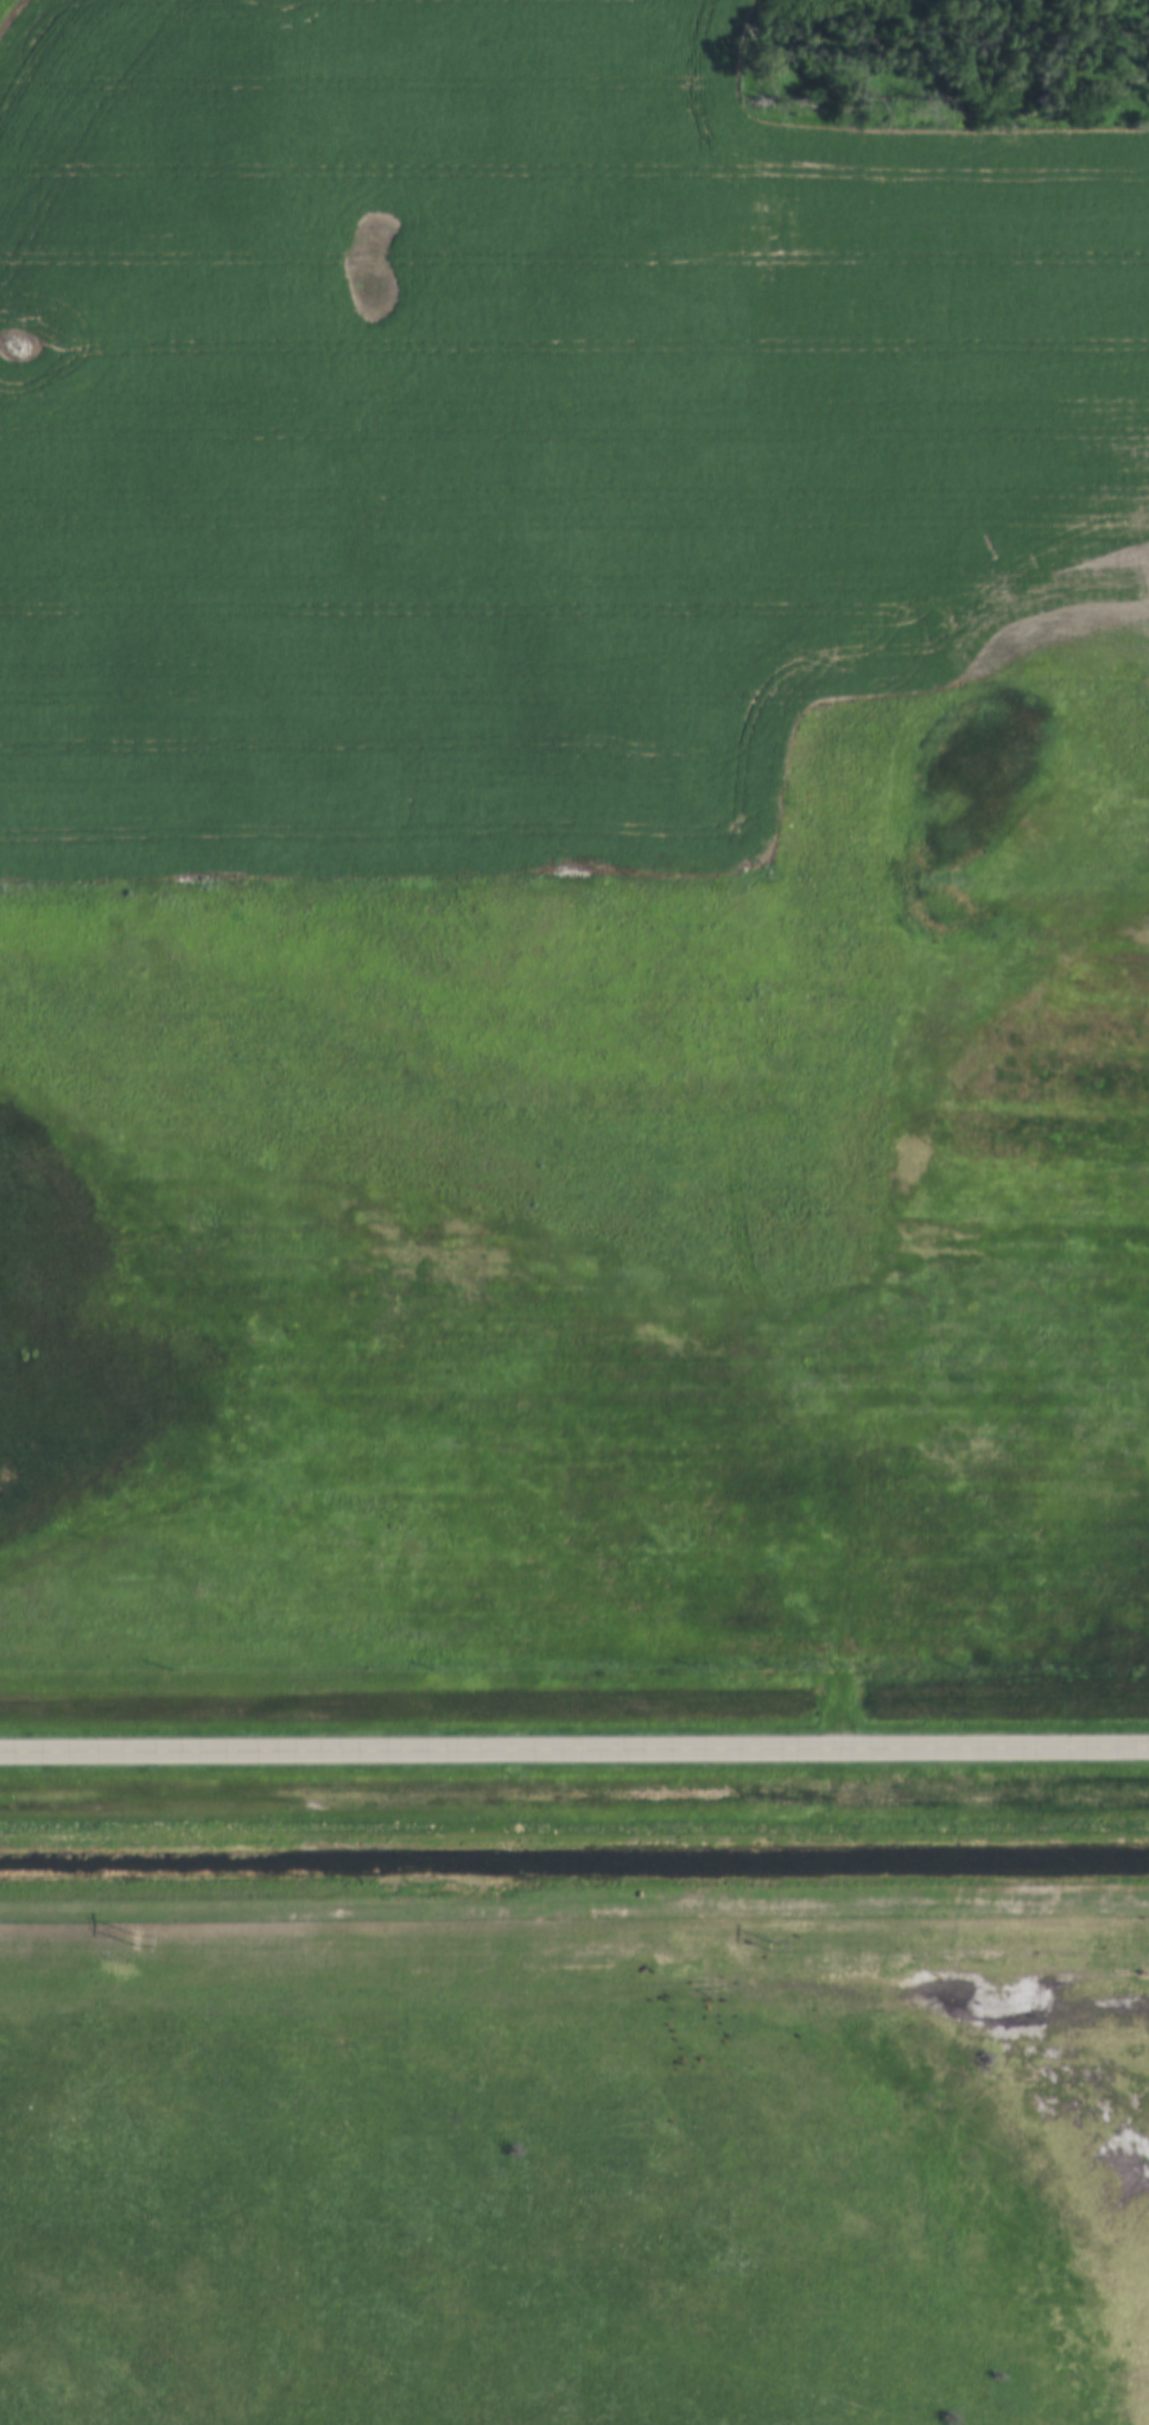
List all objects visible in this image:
crop: (519, 432)
road: (574, 1749)
power tower: (132, 1939)
power tower: (772, 1949)

